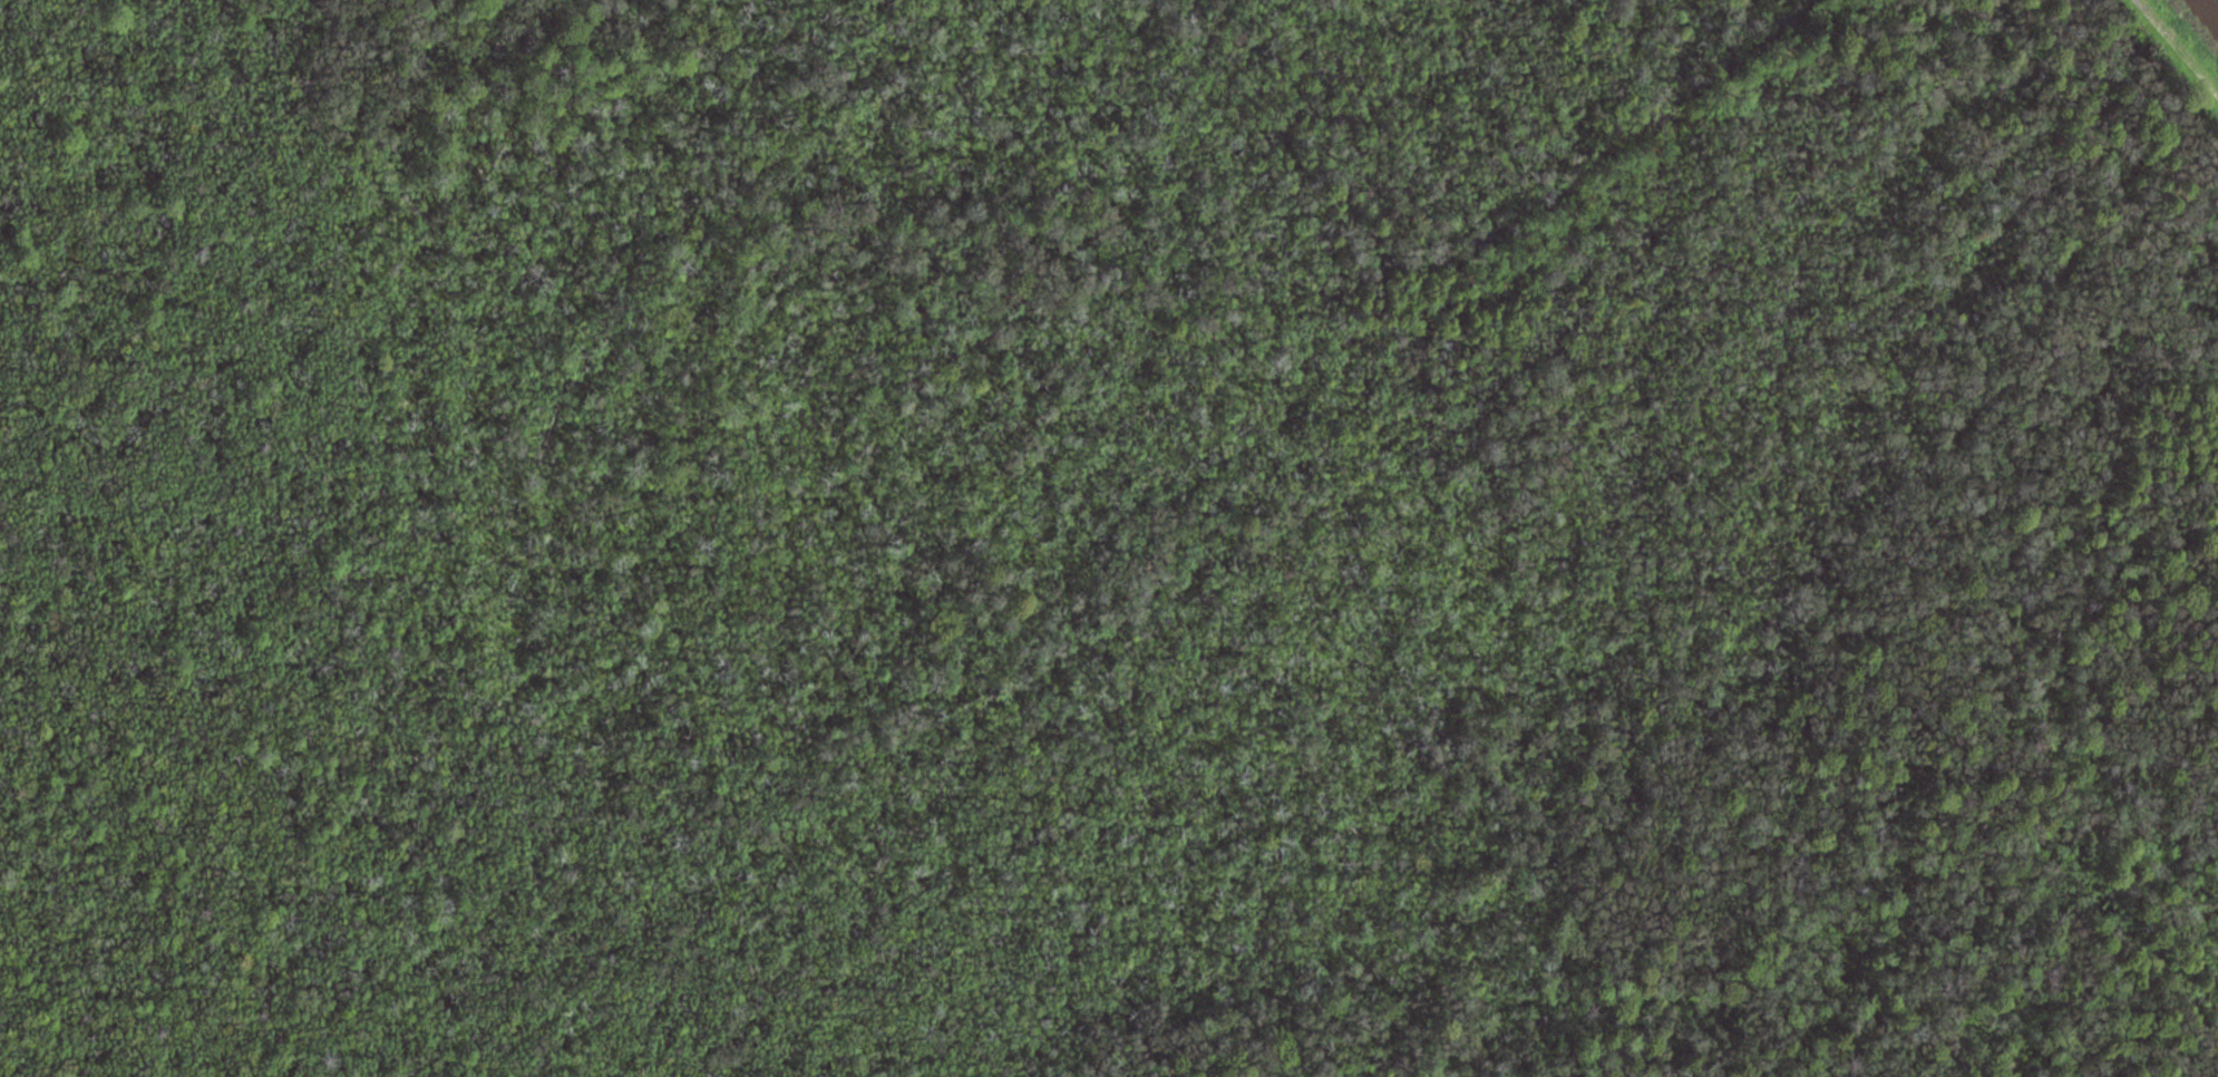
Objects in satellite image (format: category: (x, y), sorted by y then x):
road: (2200, 20)

